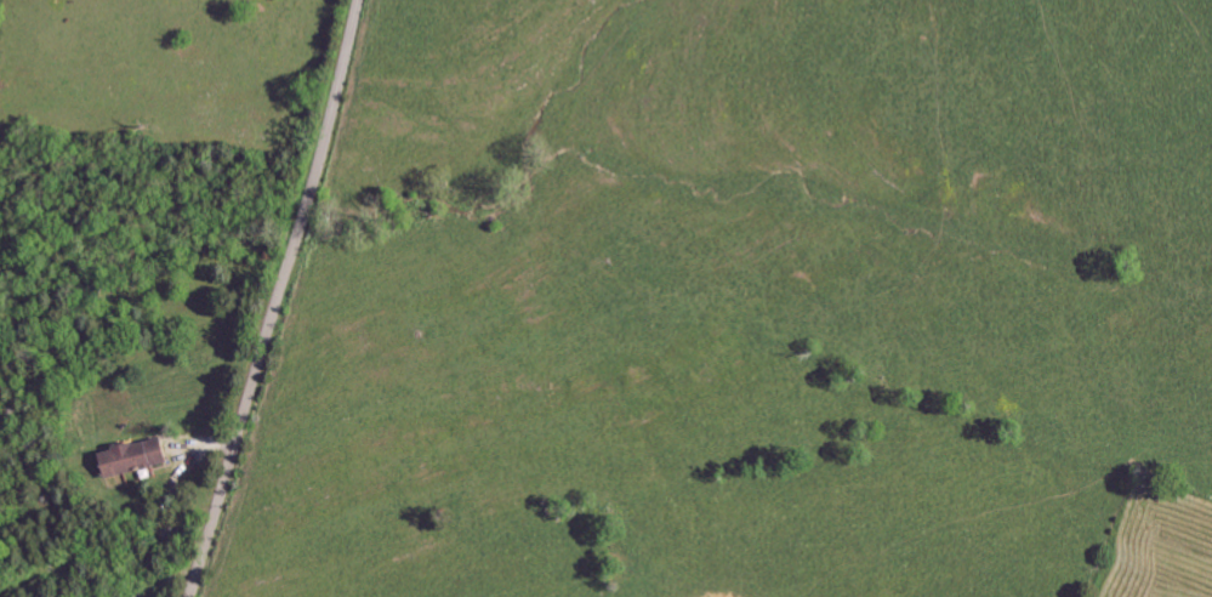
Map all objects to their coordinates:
road: (278, 298)
building: (140, 457)

